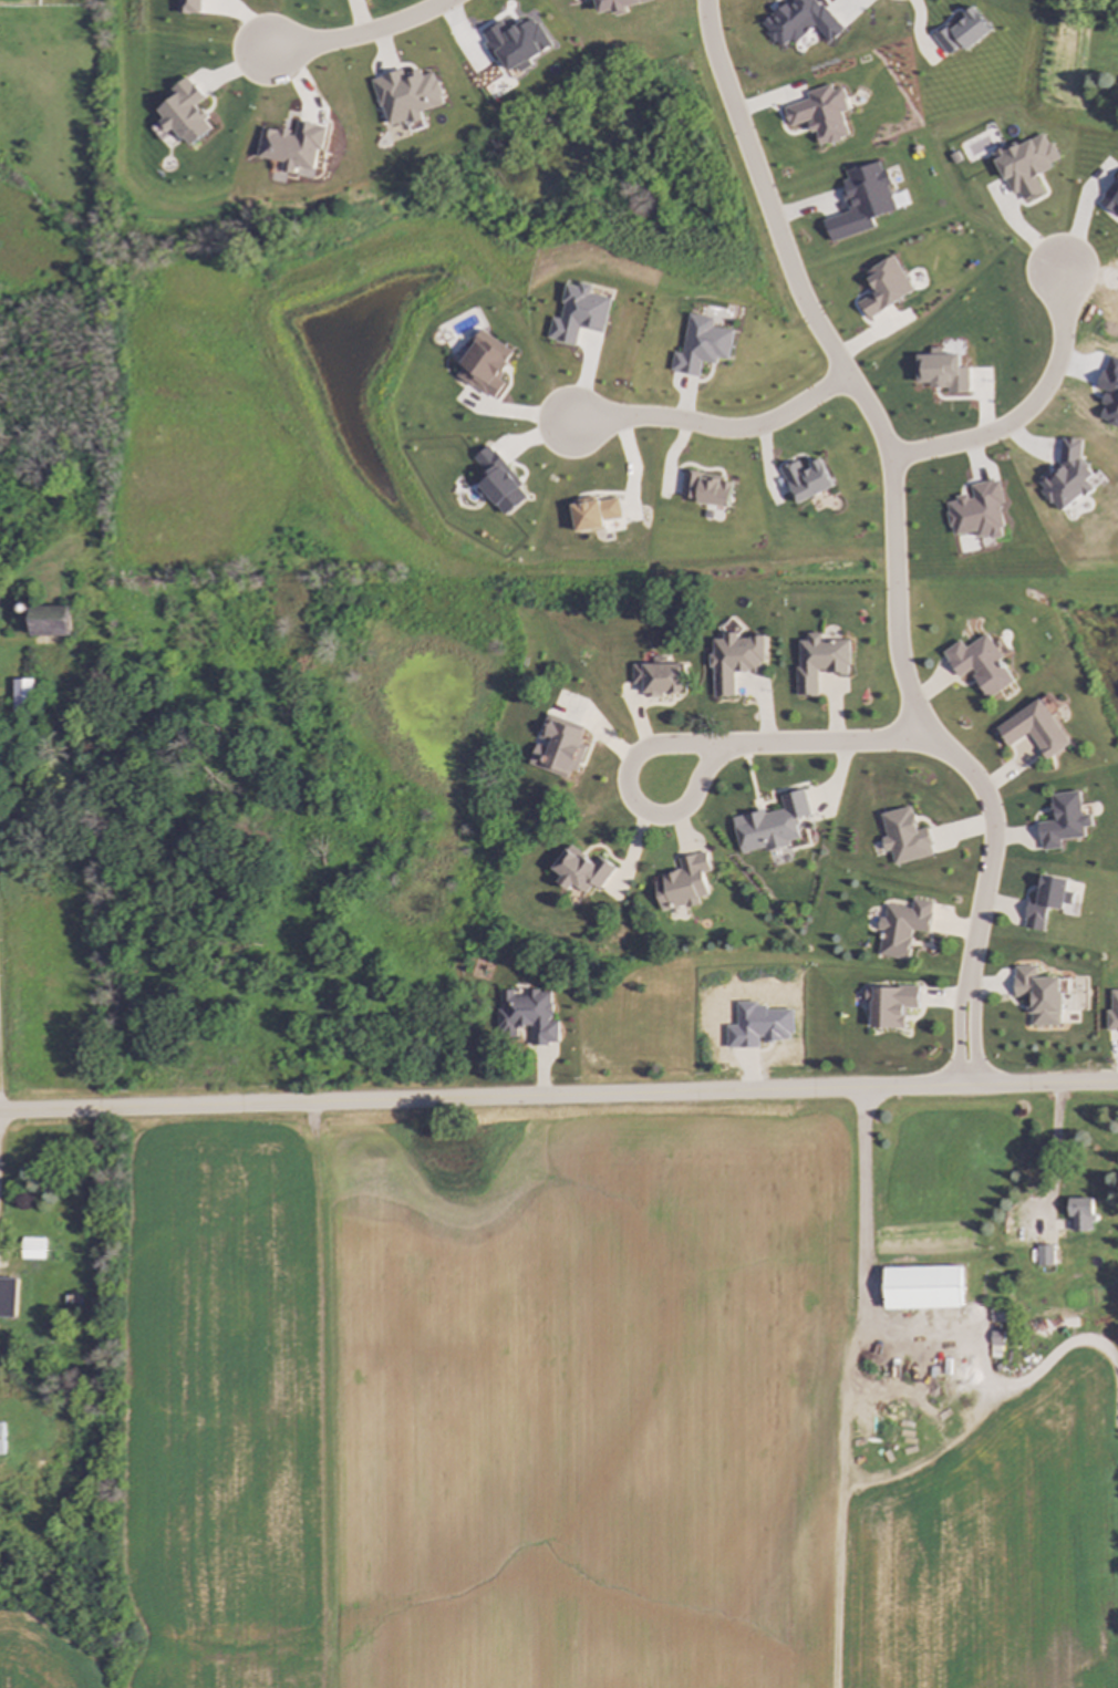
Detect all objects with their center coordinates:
road: (362, 33)
building: (1106, 318)
road: (1025, 406)
road: (716, 426)
road: (892, 539)
building: (49, 623)
building: (735, 664)
building: (981, 667)
building: (660, 681)
building: (23, 698)
road: (690, 745)
building: (684, 886)
building: (903, 930)
road: (558, 1096)
road: (1054, 1152)
building: (1081, 1218)
building: (33, 1251)
building: (1046, 1259)
building: (922, 1291)
building: (8, 1299)
road: (905, 1339)
crop: (560, 1425)
building: (3, 1442)

